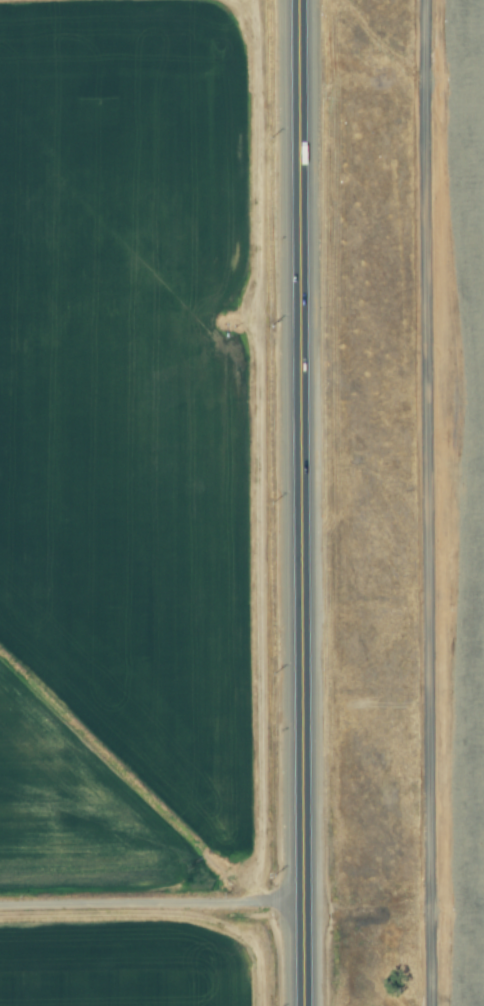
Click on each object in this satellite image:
road: (306, 503)
road: (426, 503)
road: (155, 907)

